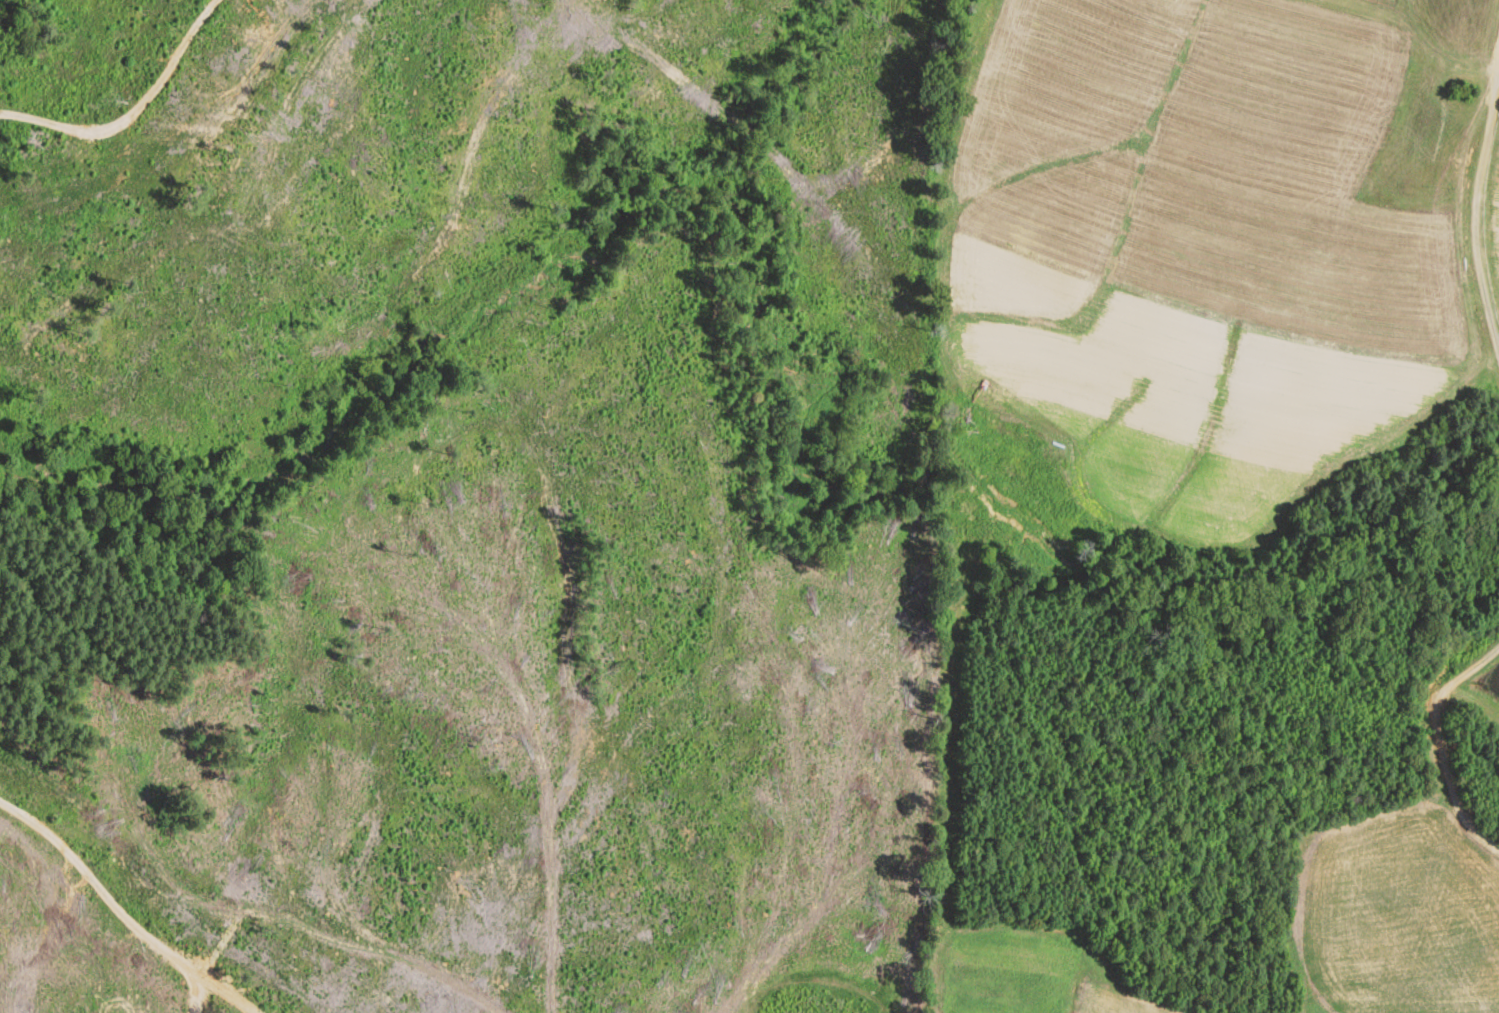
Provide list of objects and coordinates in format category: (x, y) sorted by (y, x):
road: (163, 90)

